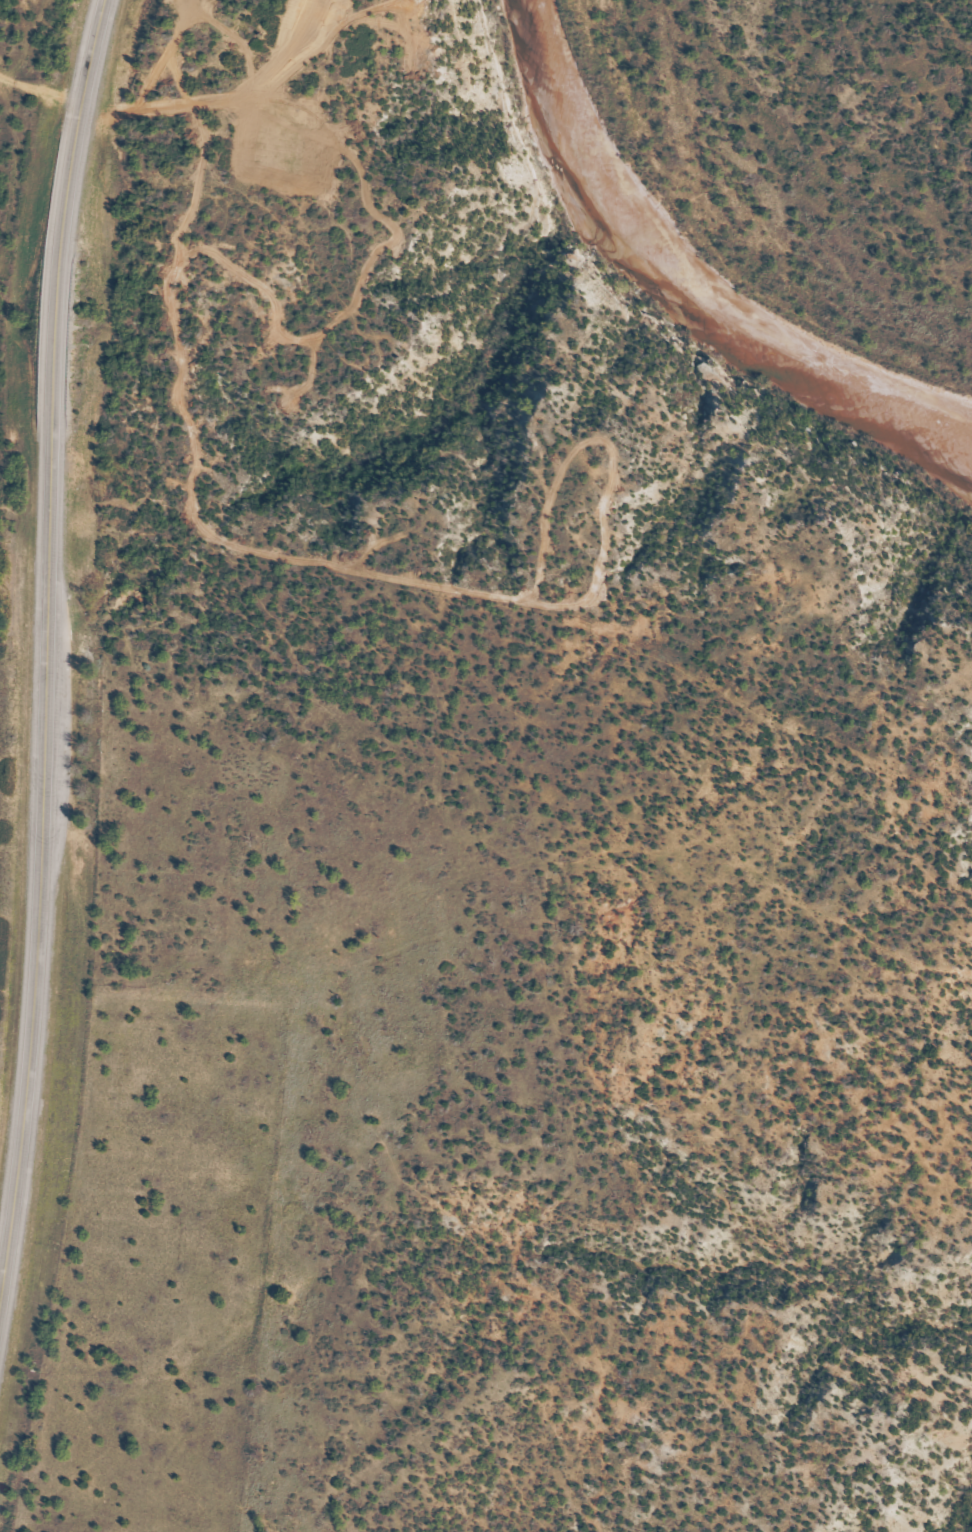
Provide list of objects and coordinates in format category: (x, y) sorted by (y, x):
river: (683, 287)
road: (48, 648)

